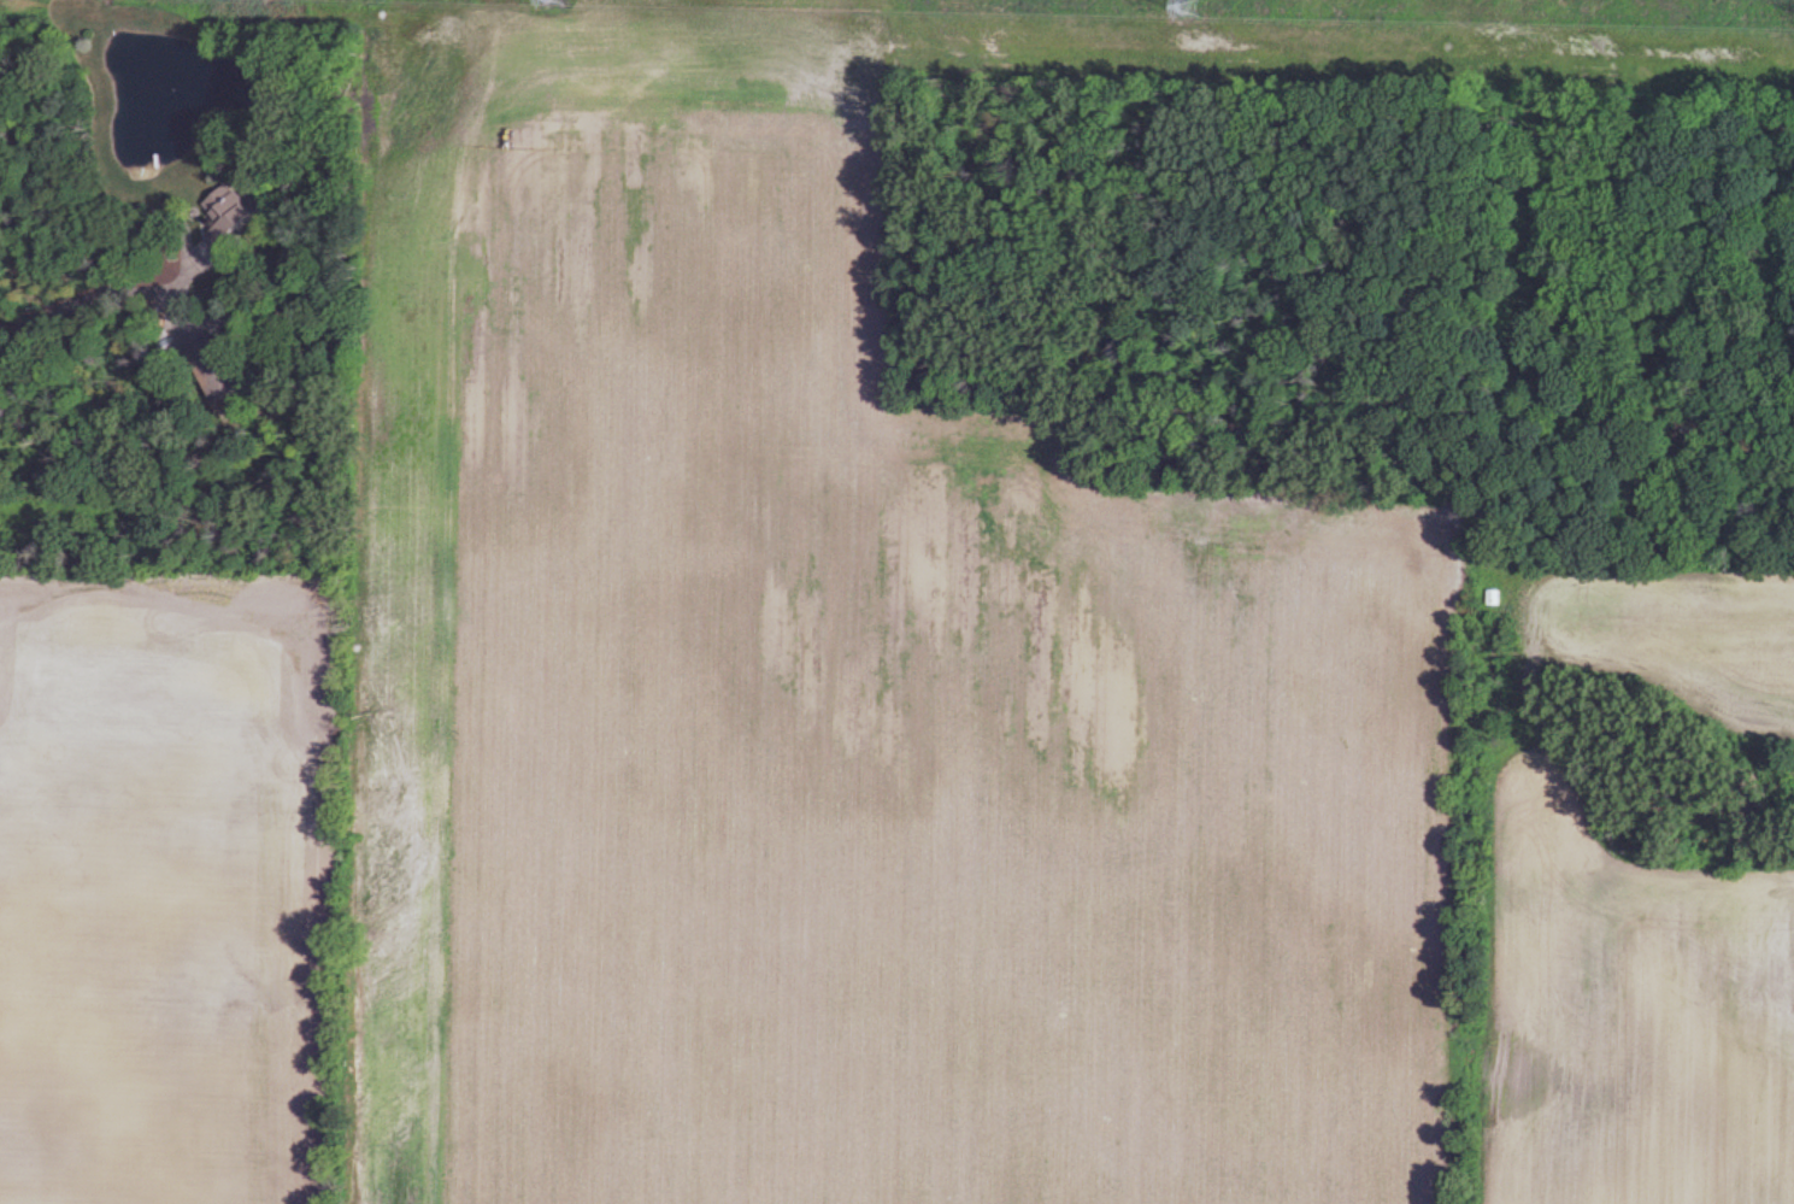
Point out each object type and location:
power tower: (554, 0)
power tower: (1189, 8)
building: (240, 224)
road: (184, 229)
road: (49, 310)

